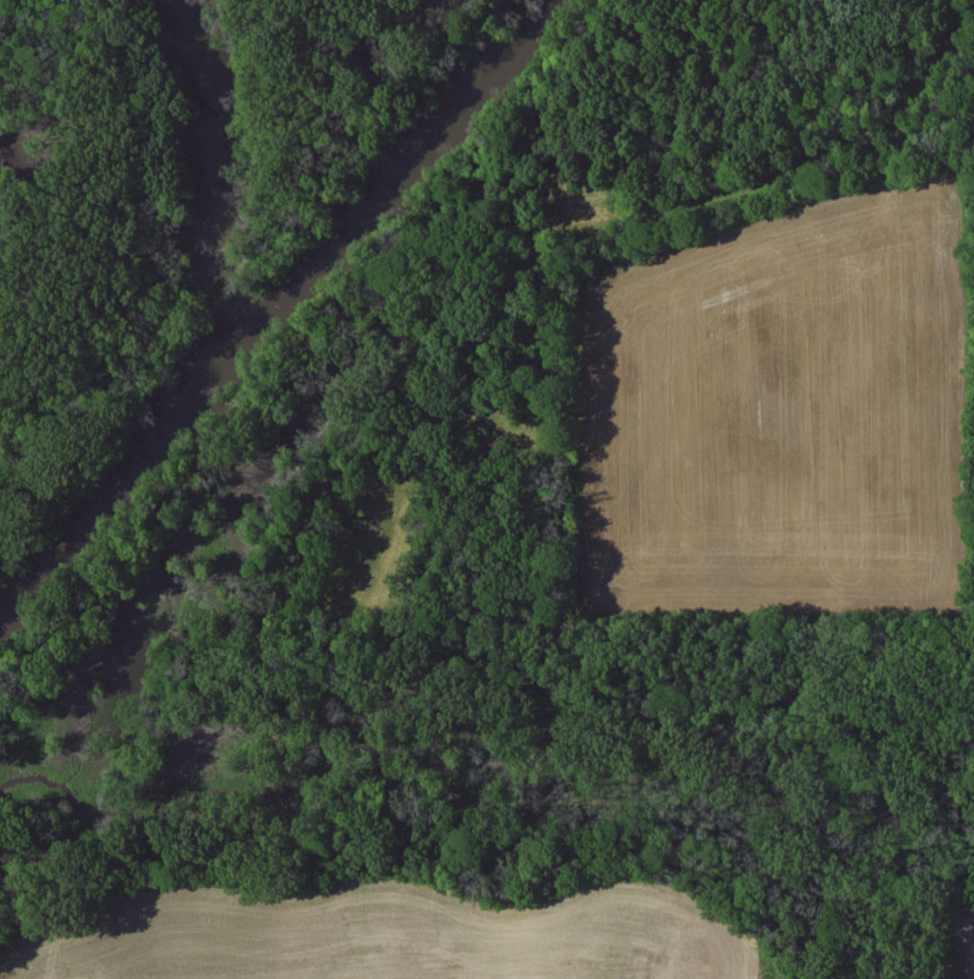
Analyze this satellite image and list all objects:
river: (333, 253)
river: (49, 563)

